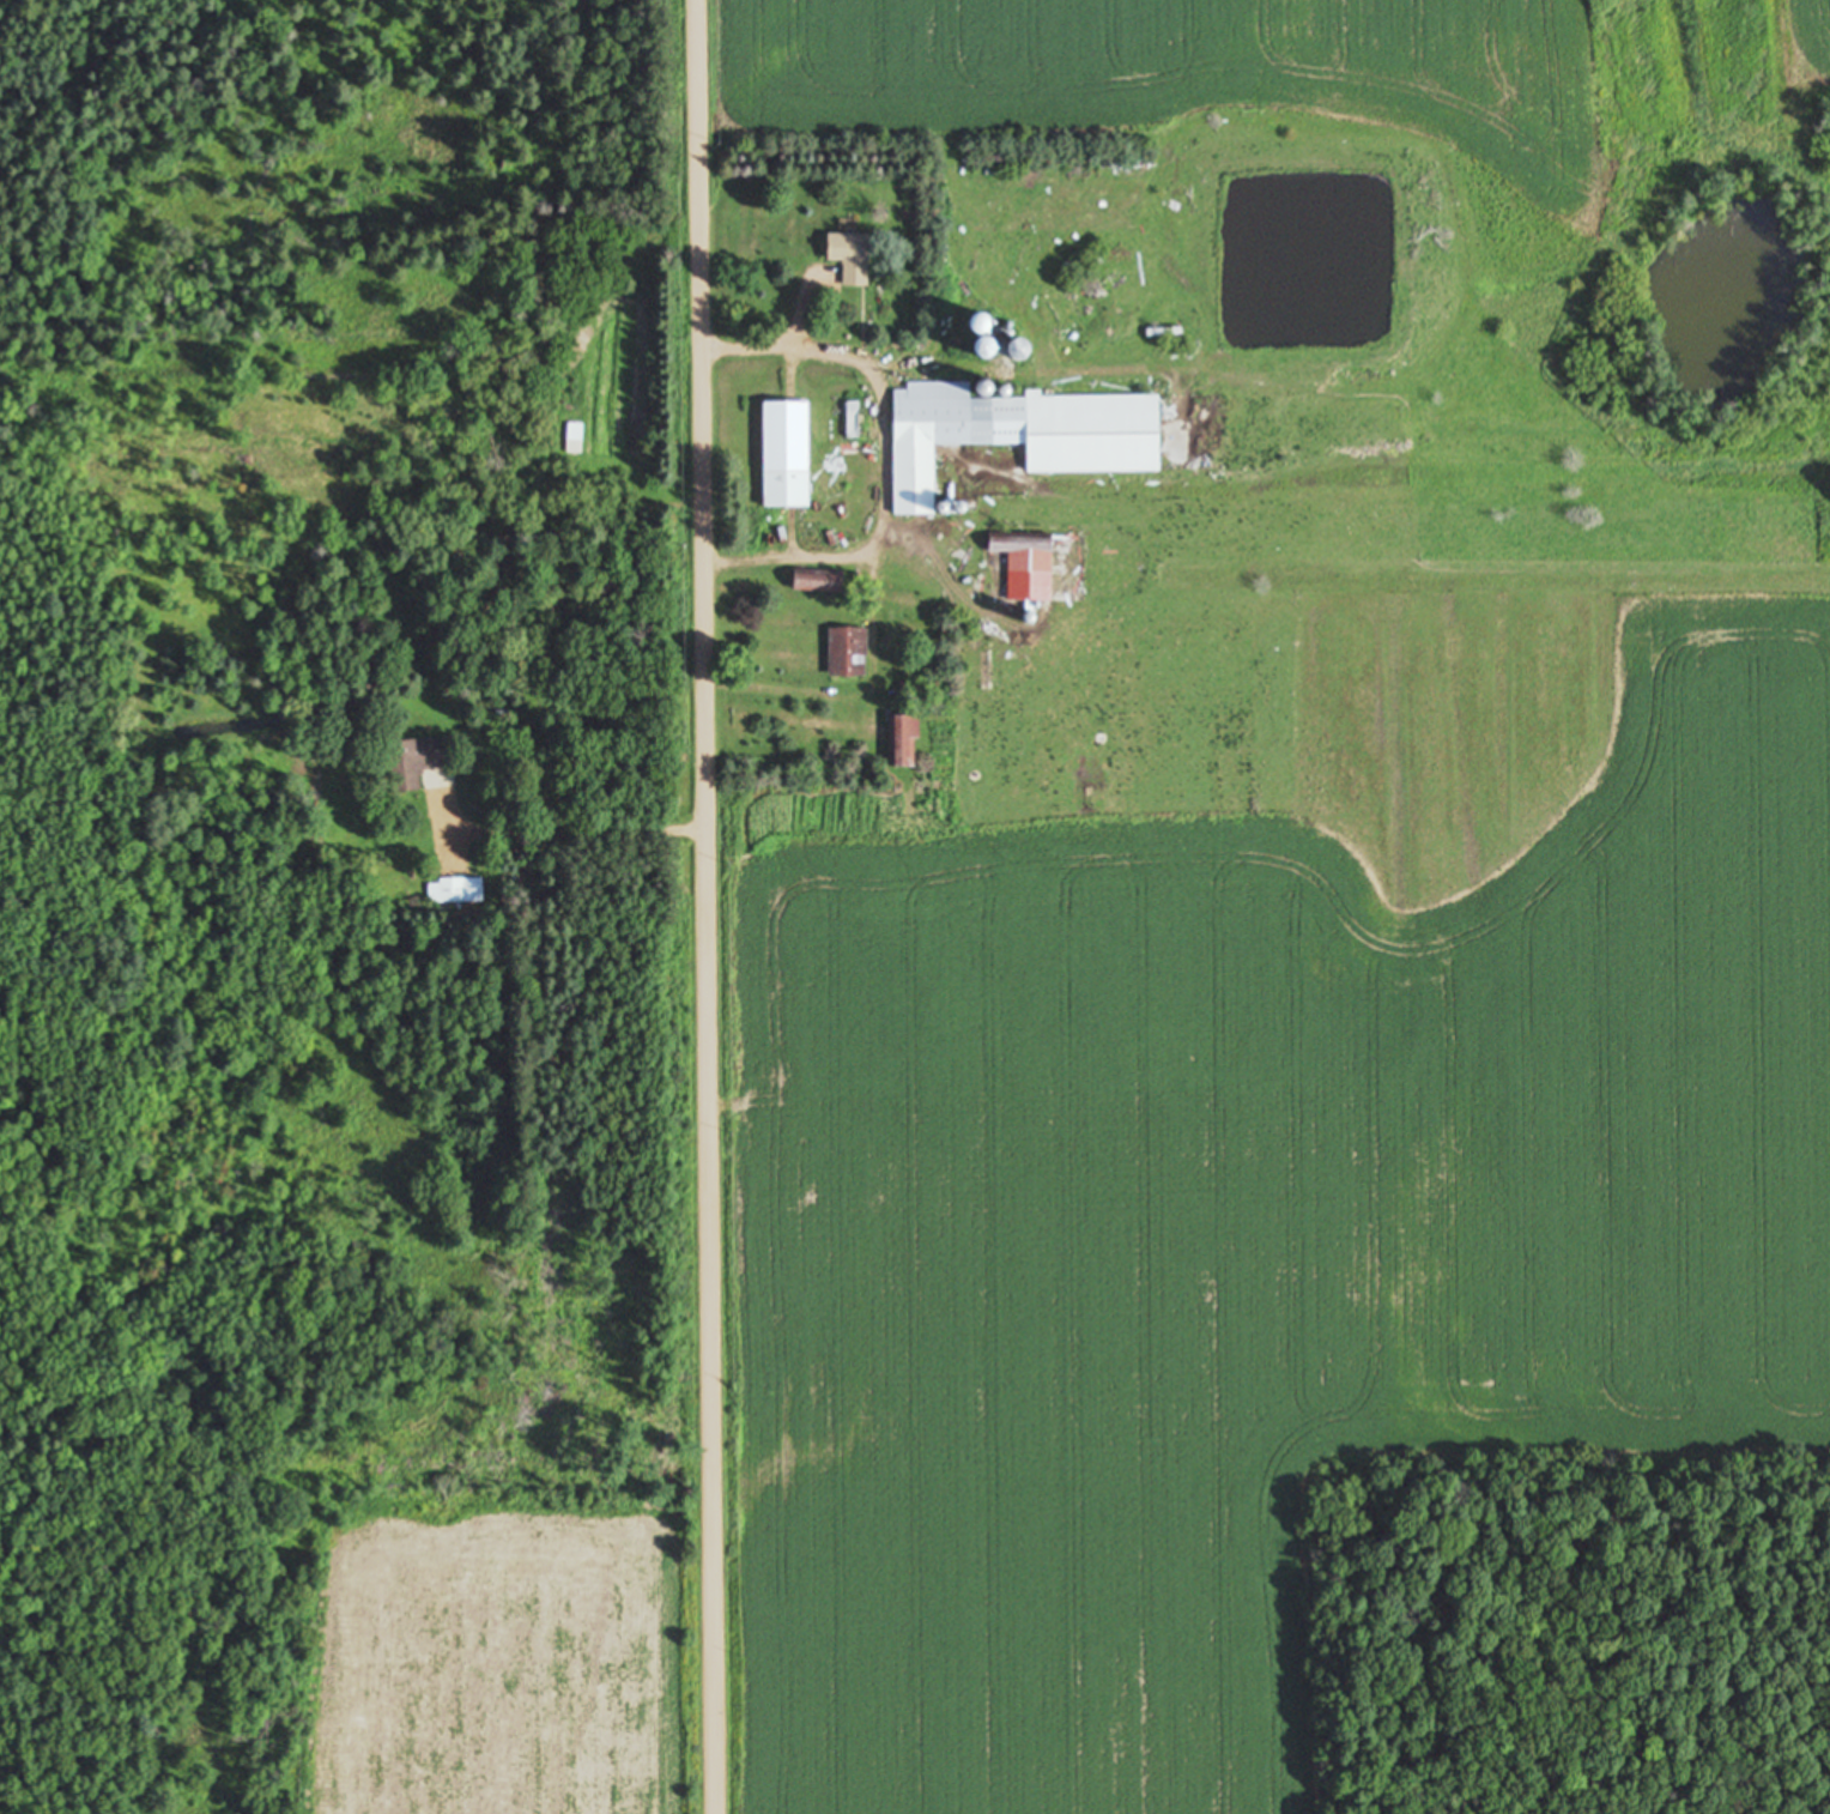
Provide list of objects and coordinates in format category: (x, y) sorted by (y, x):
building: (840, 244)
building: (1011, 434)
building: (781, 455)
building: (1020, 567)
building: (600, 579)
building: (841, 653)
building: (899, 742)
building: (405, 764)
road: (708, 907)

